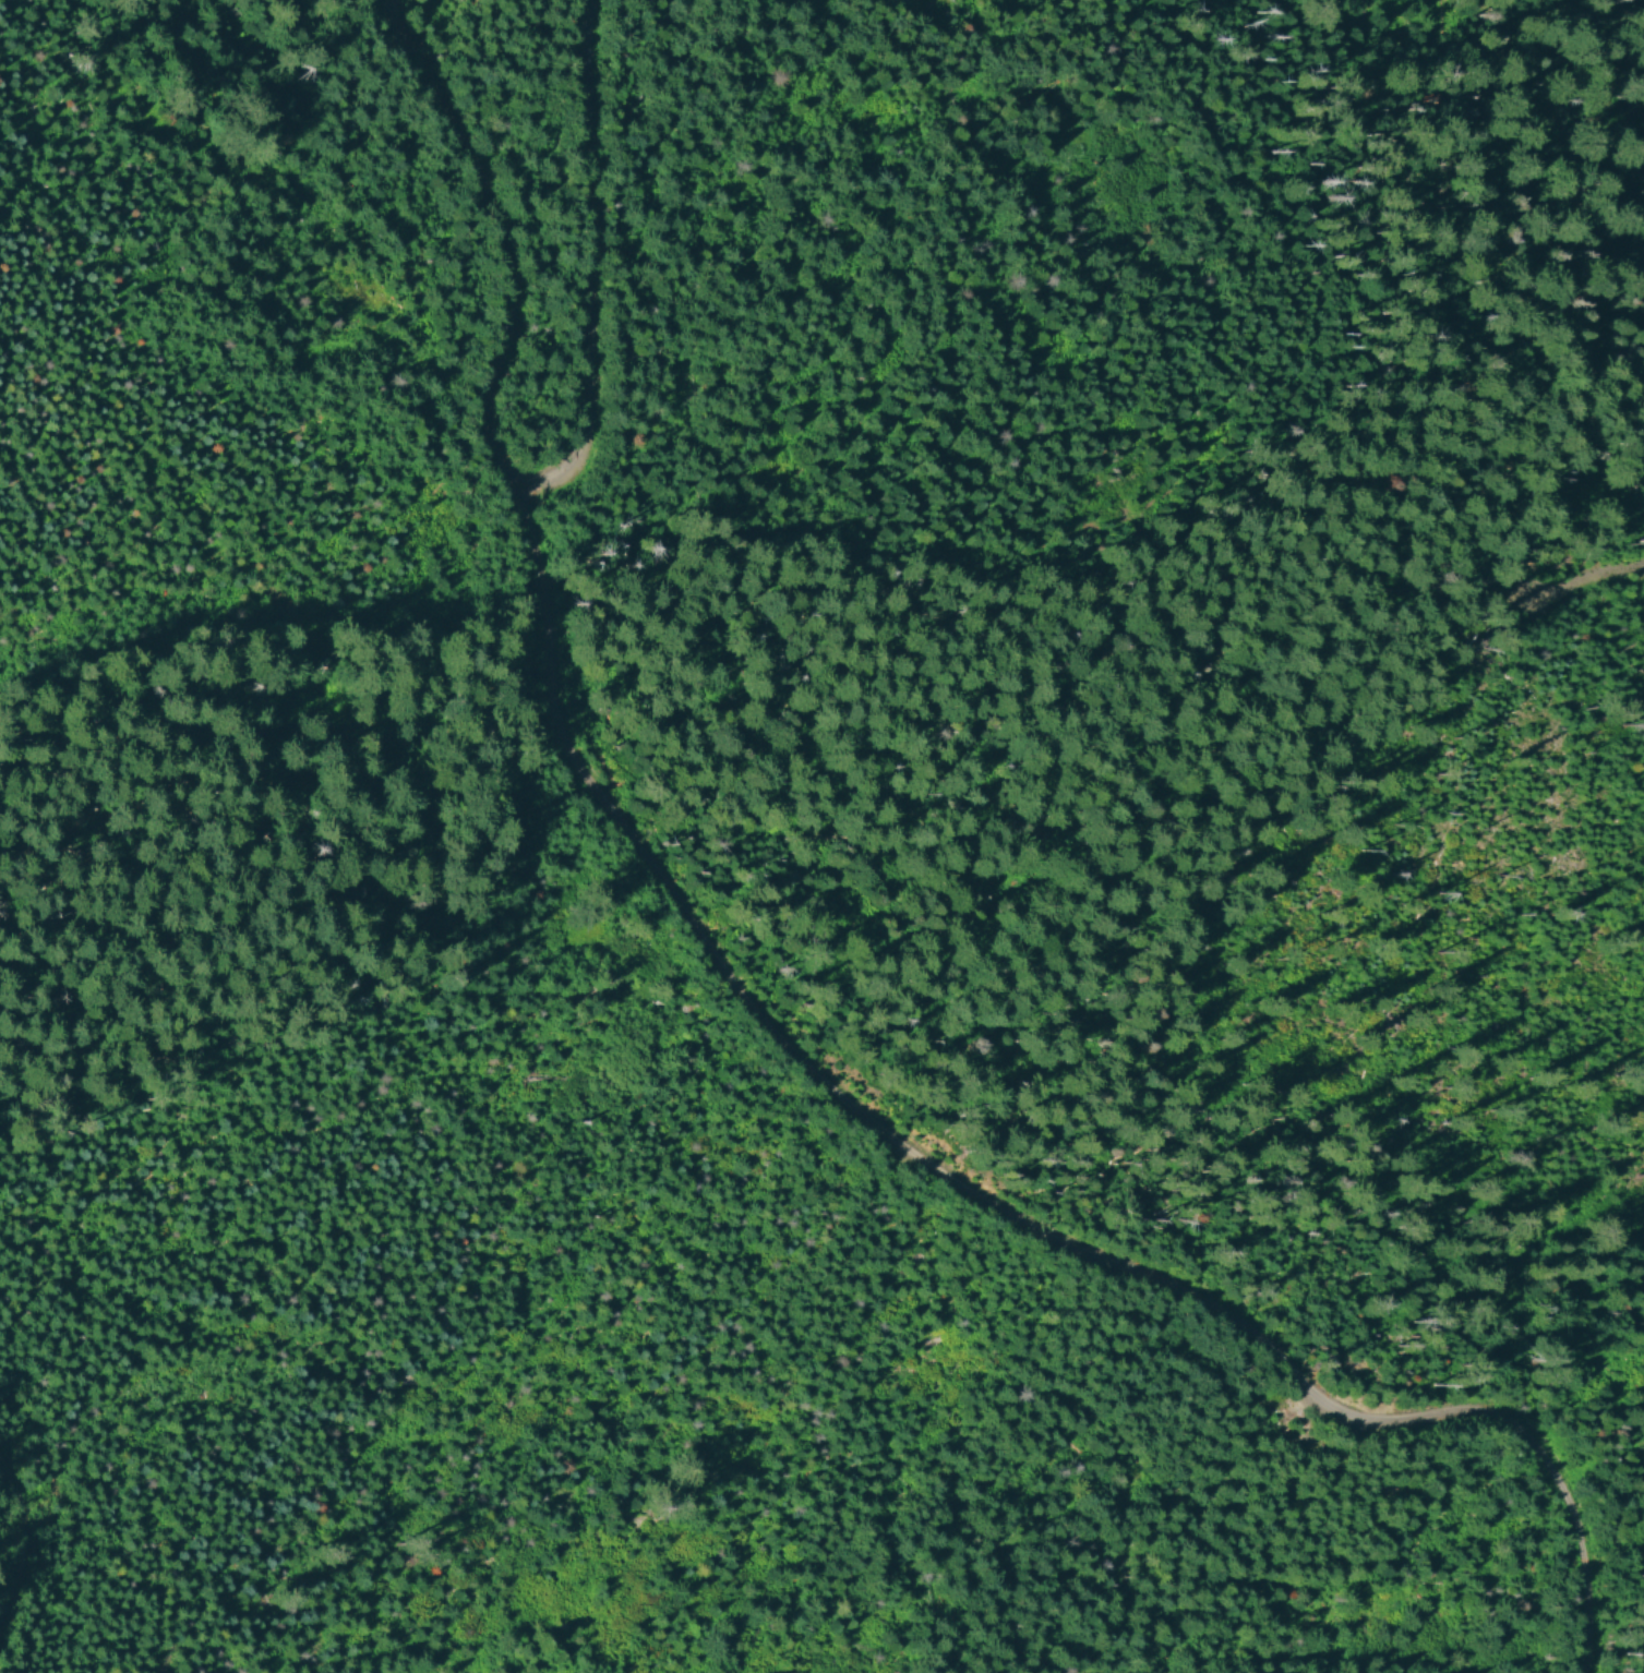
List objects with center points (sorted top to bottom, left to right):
road: (509, 234)
road: (599, 262)
road: (1585, 579)
road: (979, 1196)
road: (20, 1545)

